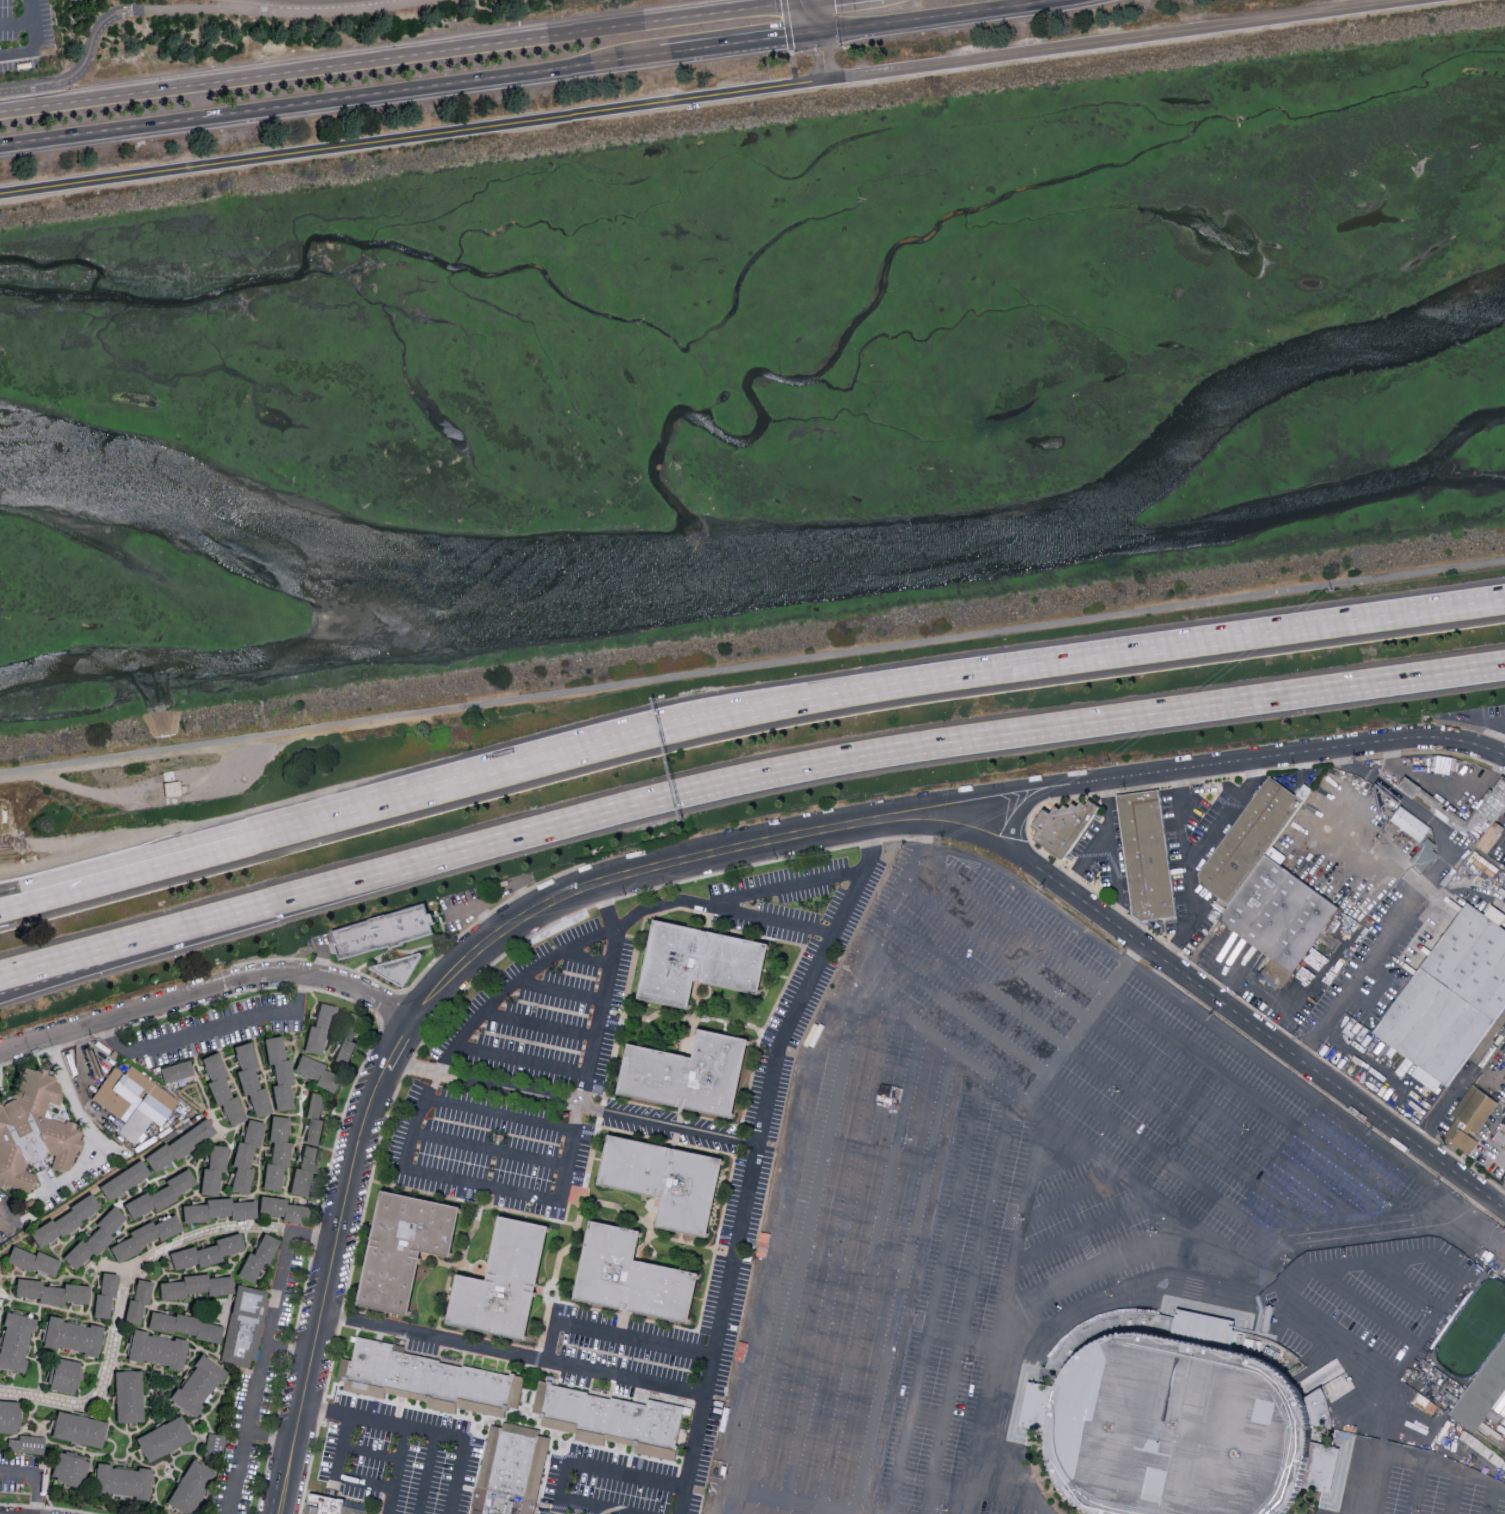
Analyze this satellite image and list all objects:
road: (243, 5)
road: (281, 10)
road: (811, 17)
road: (936, 17)
road: (786, 24)
road: (17, 25)
parking lot: (24, 34)
traffic signals: (815, 34)
road: (1121, 40)
road: (38, 43)
road: (737, 44)
road: (401, 53)
road: (819, 57)
road: (81, 63)
road: (330, 101)
road: (412, 137)
river: (778, 568)
road: (1082, 657)
road: (751, 662)
road: (1088, 722)
road: (1289, 754)
road: (443, 787)
road: (943, 798)
road: (1026, 805)
road: (1230, 812)
building: (1485, 815)
building: (1062, 824)
building: (1410, 824)
road: (844, 831)
road: (955, 832)
building: (1491, 837)
building: (1249, 840)
road: (1369, 849)
road: (872, 852)
building: (1146, 854)
road: (1111, 855)
building: (1424, 856)
road: (1087, 859)
road: (913, 860)
road: (1189, 870)
road: (113, 871)
road: (113, 883)
road: (1425, 885)
road: (337, 886)
road: (787, 888)
road: (478, 908)
road: (635, 913)
building: (1279, 913)
building: (389, 929)
road: (585, 956)
road: (106, 959)
road: (321, 960)
building: (1473, 960)
building: (698, 965)
building: (400, 969)
road: (532, 969)
road: (206, 988)
road: (560, 988)
road: (1280, 1008)
road: (231, 1021)
road: (537, 1024)
building: (1434, 1026)
parking lot: (217, 1028)
building: (318, 1028)
road: (1074, 1033)
road: (1170, 1036)
road: (1269, 1037)
building: (349, 1039)
road: (398, 1042)
road: (1138, 1055)
road: (520, 1057)
building: (176, 1070)
building: (279, 1071)
building: (318, 1073)
road: (1102, 1073)
building: (689, 1076)
building: (250, 1078)
building: (221, 1088)
building: (135, 1097)
road: (1076, 1098)
road: (573, 1102)
road: (1445, 1104)
building: (1475, 1110)
road: (1041, 1116)
road: (86, 1127)
building: (33, 1129)
building: (1500, 1136)
building: (1465, 1142)
road: (1483, 1143)
building: (179, 1144)
building: (310, 1144)
road: (489, 1148)
building: (1504, 1149)
building: (276, 1151)
building: (245, 1155)
building: (213, 1169)
road: (750, 1170)
road: (419, 1171)
building: (123, 1179)
building: (666, 1183)
building: (160, 1194)
road: (1070, 1197)
road: (1501, 1198)
building: (282, 1208)
building: (218, 1209)
road: (1024, 1215)
parking lot: (1058, 1215)
building: (64, 1220)
road: (987, 1220)
road: (1082, 1228)
road: (1334, 1235)
building: (95, 1236)
building: (144, 1236)
building: (405, 1250)
building: (206, 1251)
road: (767, 1252)
building: (257, 1256)
road: (835, 1258)
building: (33, 1260)
road: (1442, 1262)
road: (869, 1269)
road: (1068, 1276)
building: (633, 1280)
road: (901, 1281)
road: (1411, 1282)
building: (194, 1285)
building: (504, 1285)
road: (1080, 1287)
building: (51, 1291)
road: (935, 1292)
building: (104, 1294)
road: (122, 1297)
building: (137, 1300)
building: (244, 1324)
building: (184, 1325)
park: (1474, 1331)
road: (613, 1332)
building: (72, 1335)
road: (1339, 1339)
building: (14, 1340)
road: (262, 1347)
building: (157, 1349)
road: (514, 1352)
building: (62, 1375)
building: (429, 1375)
building: (197, 1384)
building: (1482, 1393)
building: (128, 1395)
road: (948, 1406)
building: (9, 1416)
building: (1173, 1417)
stadium: (1173, 1417)
building: (615, 1421)
building: (77, 1428)
road: (423, 1430)
road: (982, 1432)
building: (163, 1438)
road: (271, 1438)
building: (214, 1441)
building: (26, 1444)
road: (370, 1451)
road: (398, 1457)
building: (1320, 1466)
building: (69, 1468)
parking lot: (16, 1472)
road: (623, 1472)
road: (427, 1473)
building: (512, 1473)
road: (38, 1475)
road: (1440, 1475)
road: (345, 1479)
building: (122, 1480)
building: (190, 1487)
road: (1500, 1489)
road: (1417, 1492)
road: (1012, 1496)
road: (1454, 1496)
road: (784, 1499)
road: (1492, 1500)
road: (559, 1504)
road: (603, 1504)
building: (331, 1506)
road: (599, 1509)

